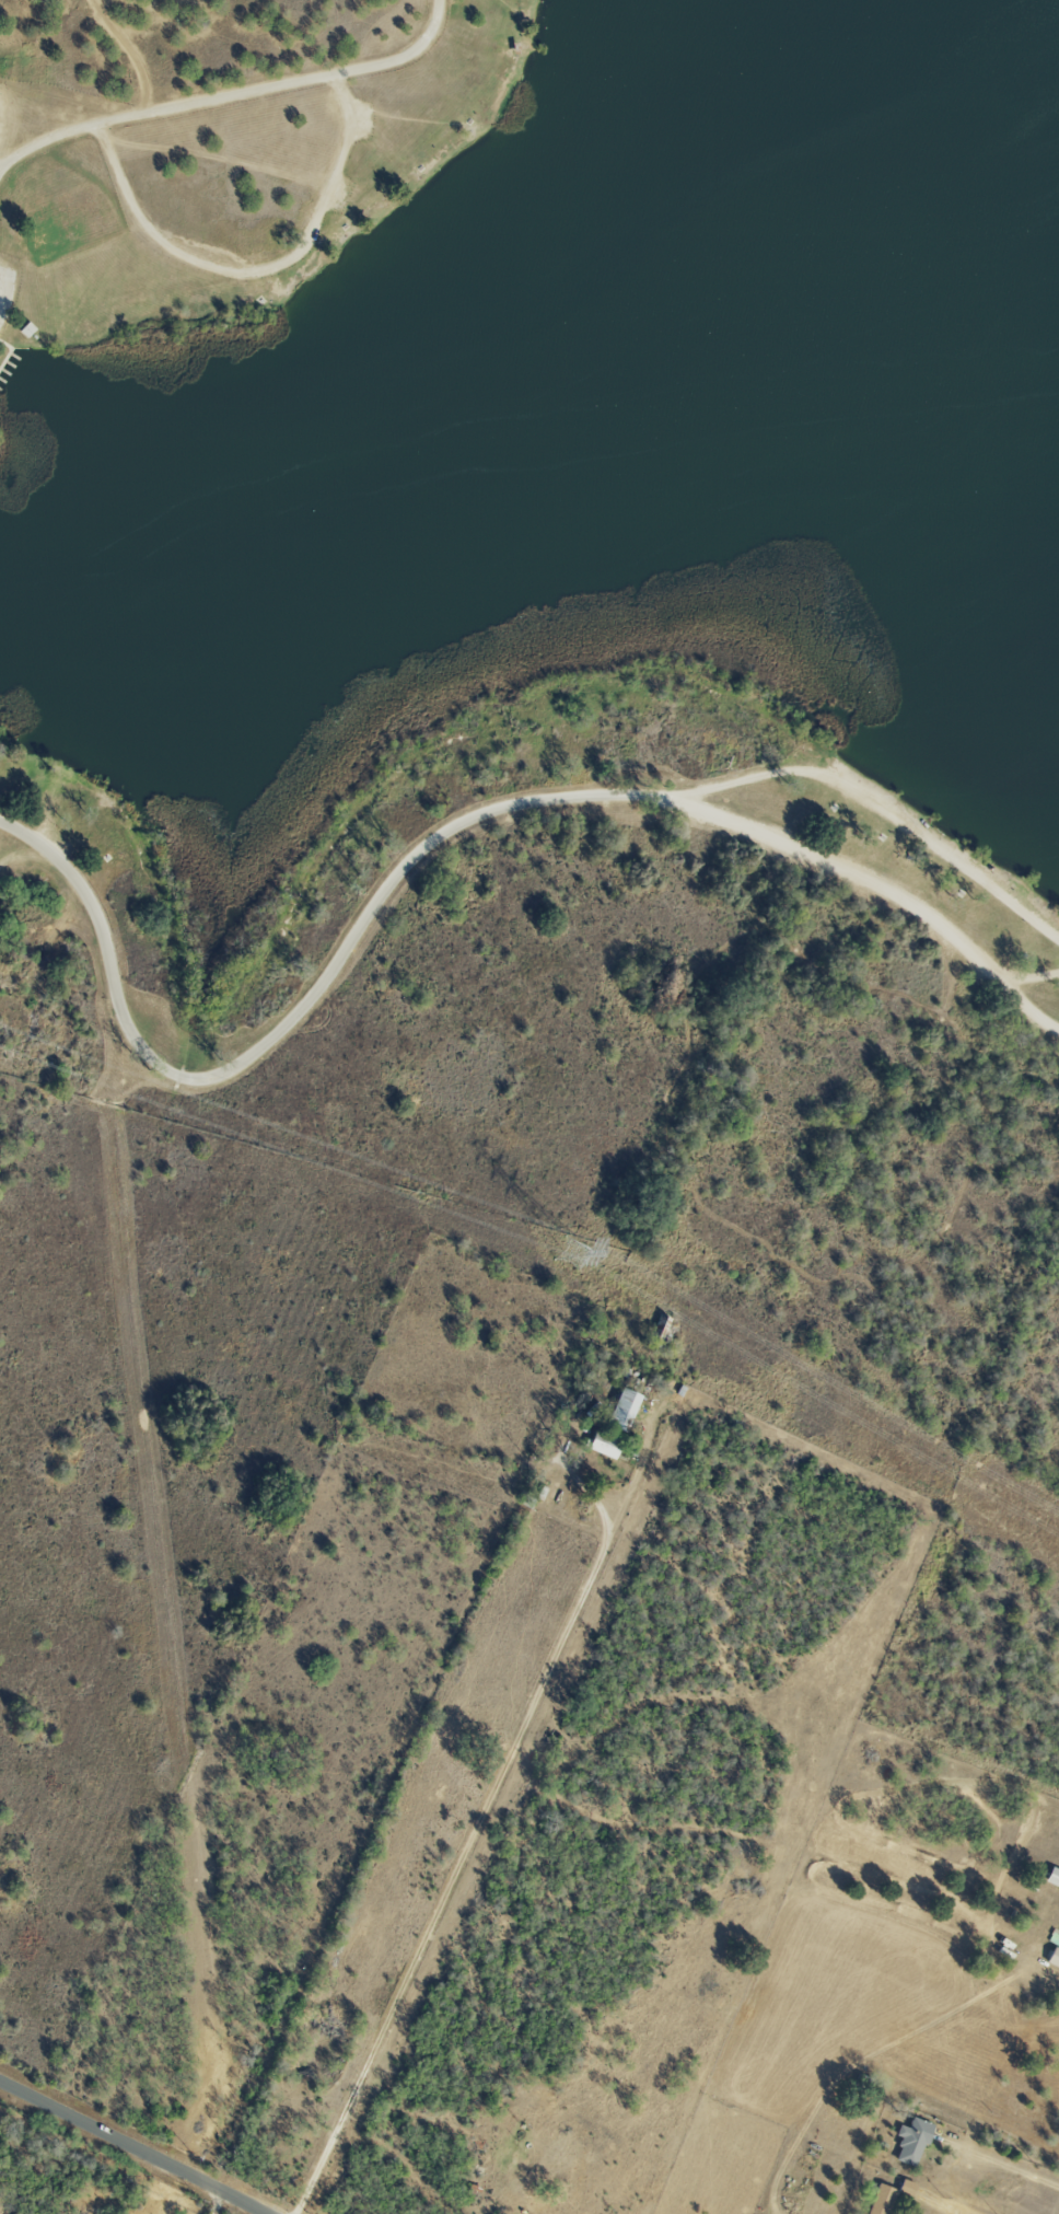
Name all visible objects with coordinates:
road: (236, 95)
park: (225, 150)
road: (431, 757)
road: (886, 811)
road: (430, 844)
park: (602, 1008)
road: (1025, 1010)
power tower: (567, 1251)
building: (621, 1410)
building: (603, 1444)
road: (474, 1838)
building: (1051, 1878)
building: (1052, 1958)
building: (910, 2141)
road: (131, 2147)
road: (1005, 2166)
building: (906, 2187)
building: (882, 2200)
road: (940, 2204)

